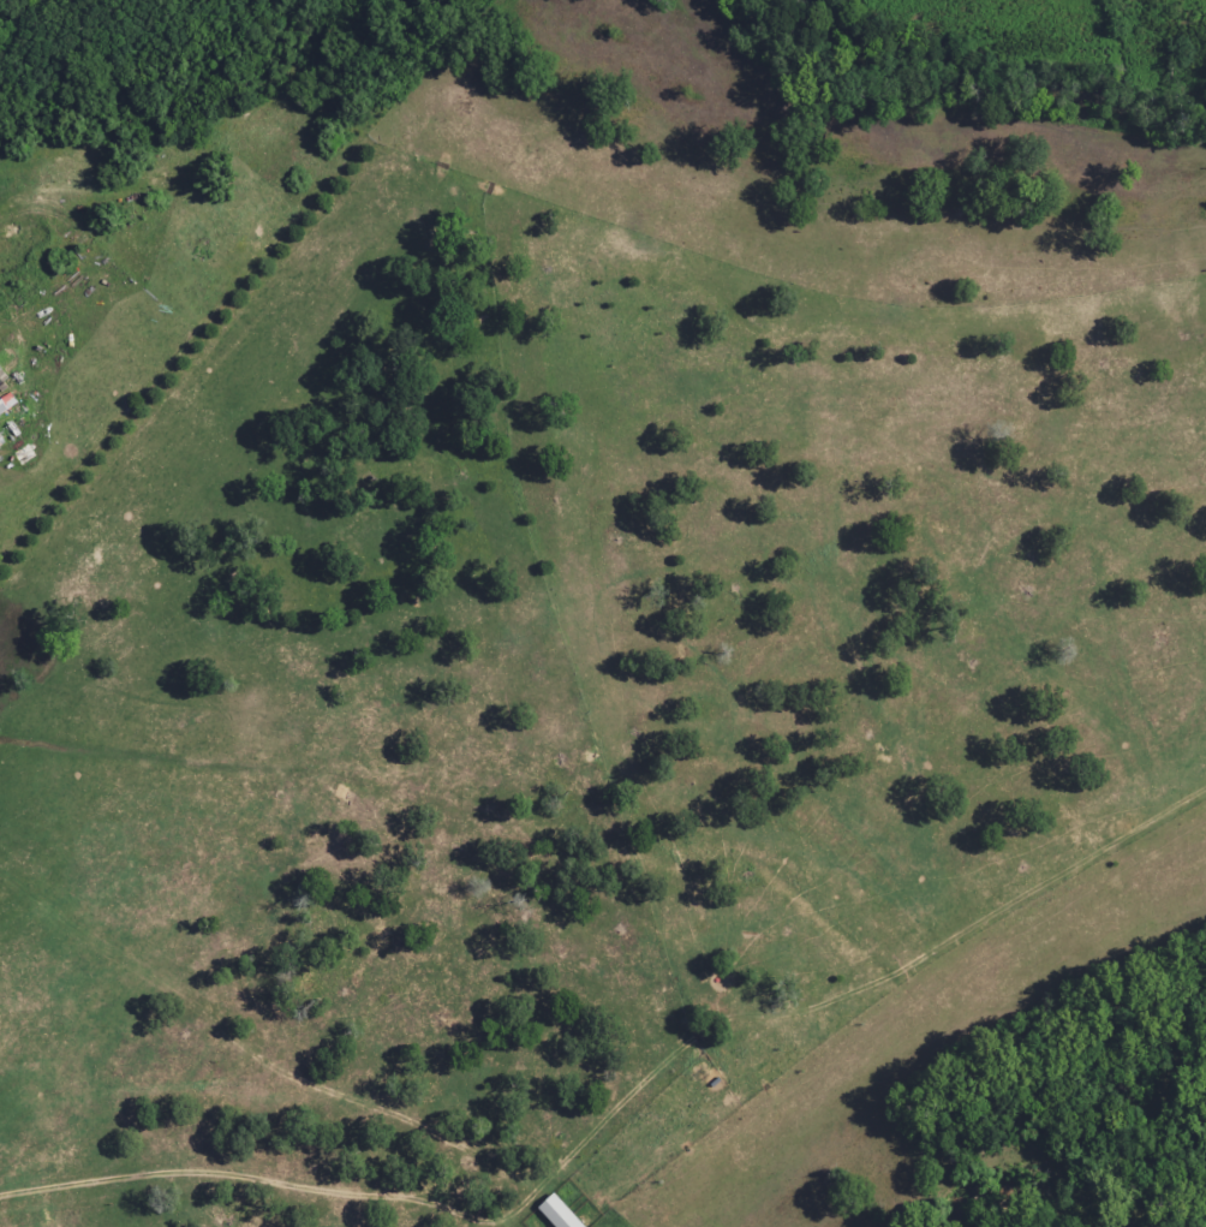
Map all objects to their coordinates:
building: (544, 1215)

